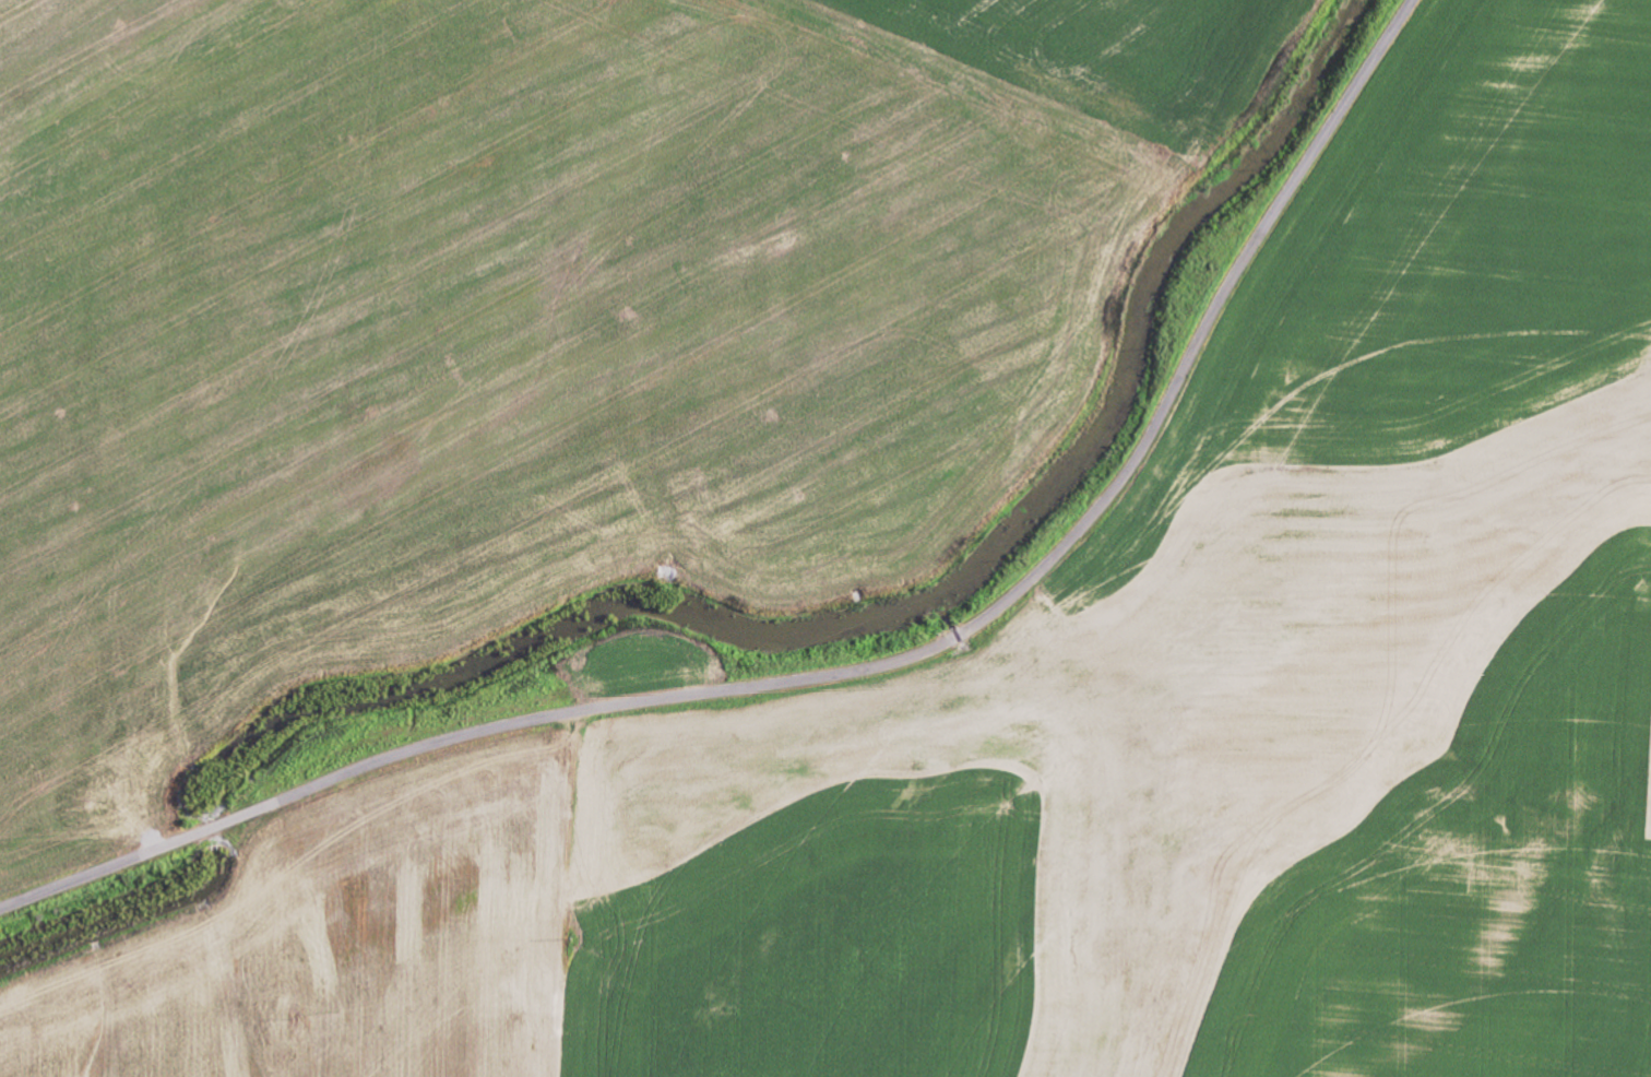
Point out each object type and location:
road: (858, 670)
road: (584, 895)
road: (929, 904)

